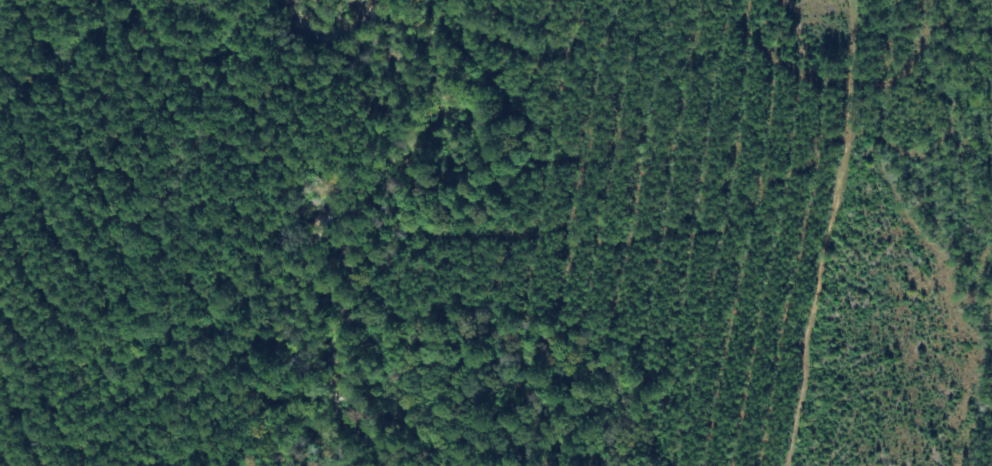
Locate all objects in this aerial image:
road: (979, 5)

